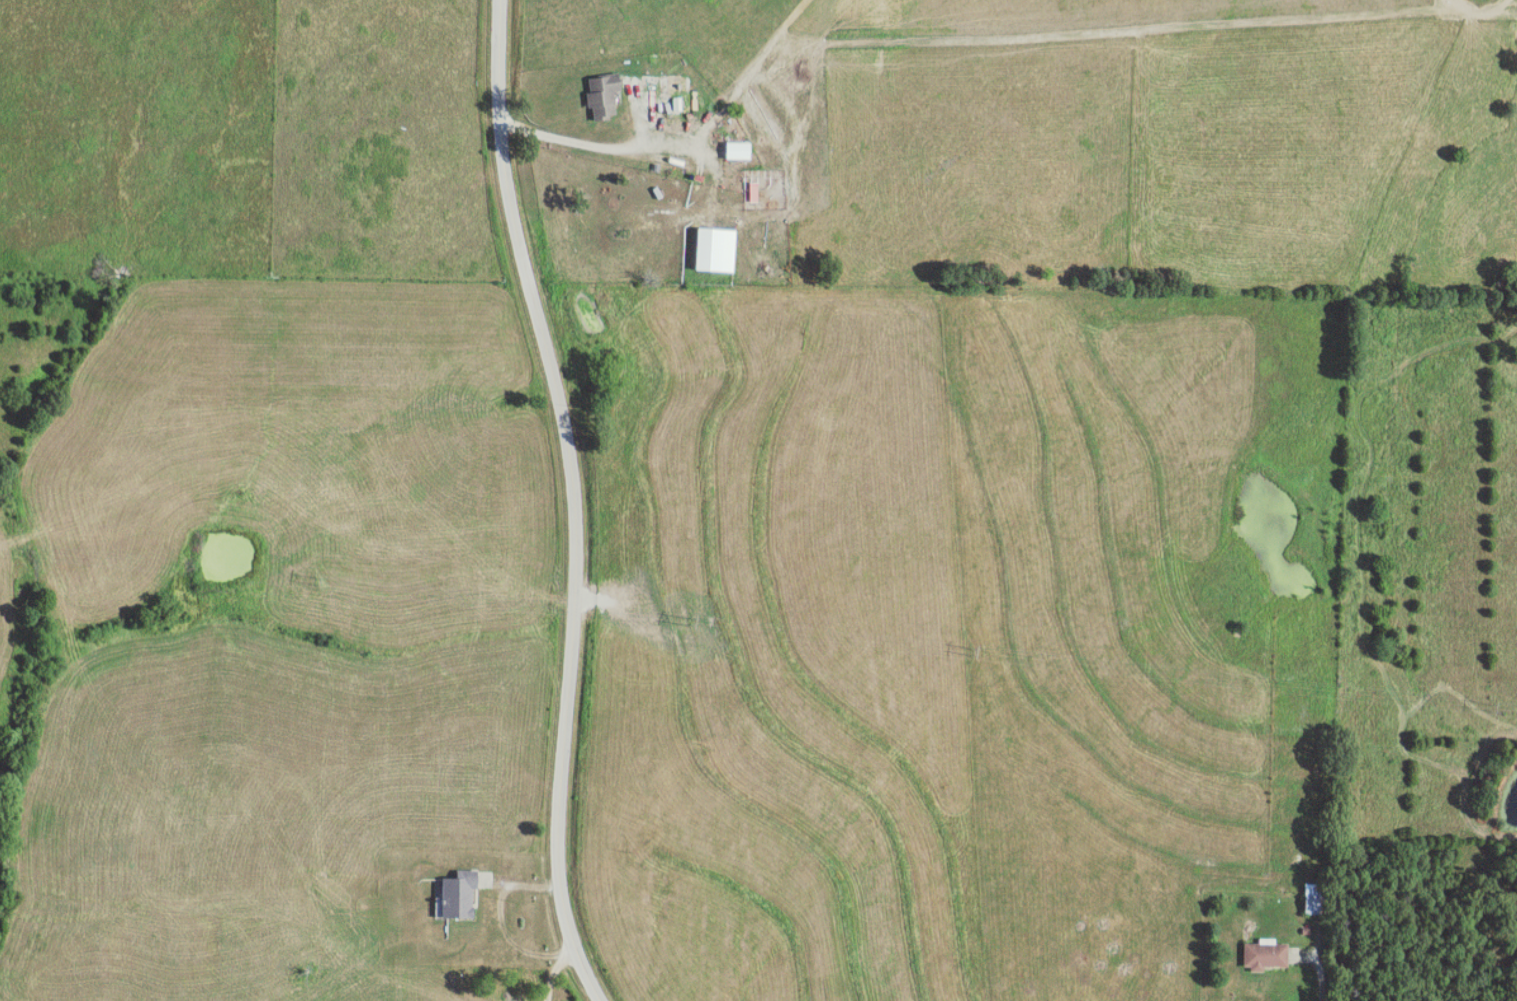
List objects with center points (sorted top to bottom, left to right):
road: (1141, 27)
building: (602, 96)
road: (688, 141)
building: (736, 151)
building: (713, 251)
road: (574, 472)
building: (457, 894)
building: (1312, 898)
road: (503, 916)
building: (1264, 954)
road: (557, 972)
road: (1322, 973)
road: (588, 975)

